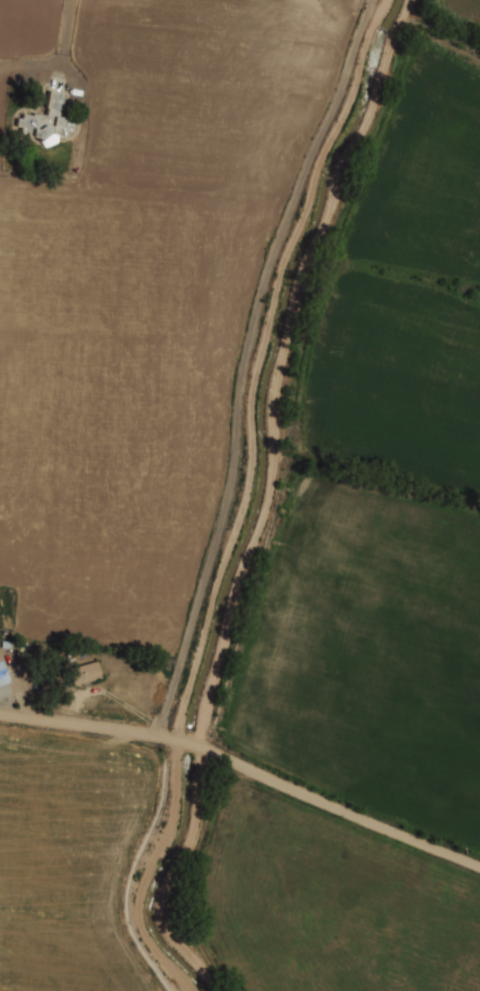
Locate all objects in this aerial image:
building: (47, 123)
road: (247, 361)
building: (85, 672)
building: (3, 674)
road: (246, 766)

